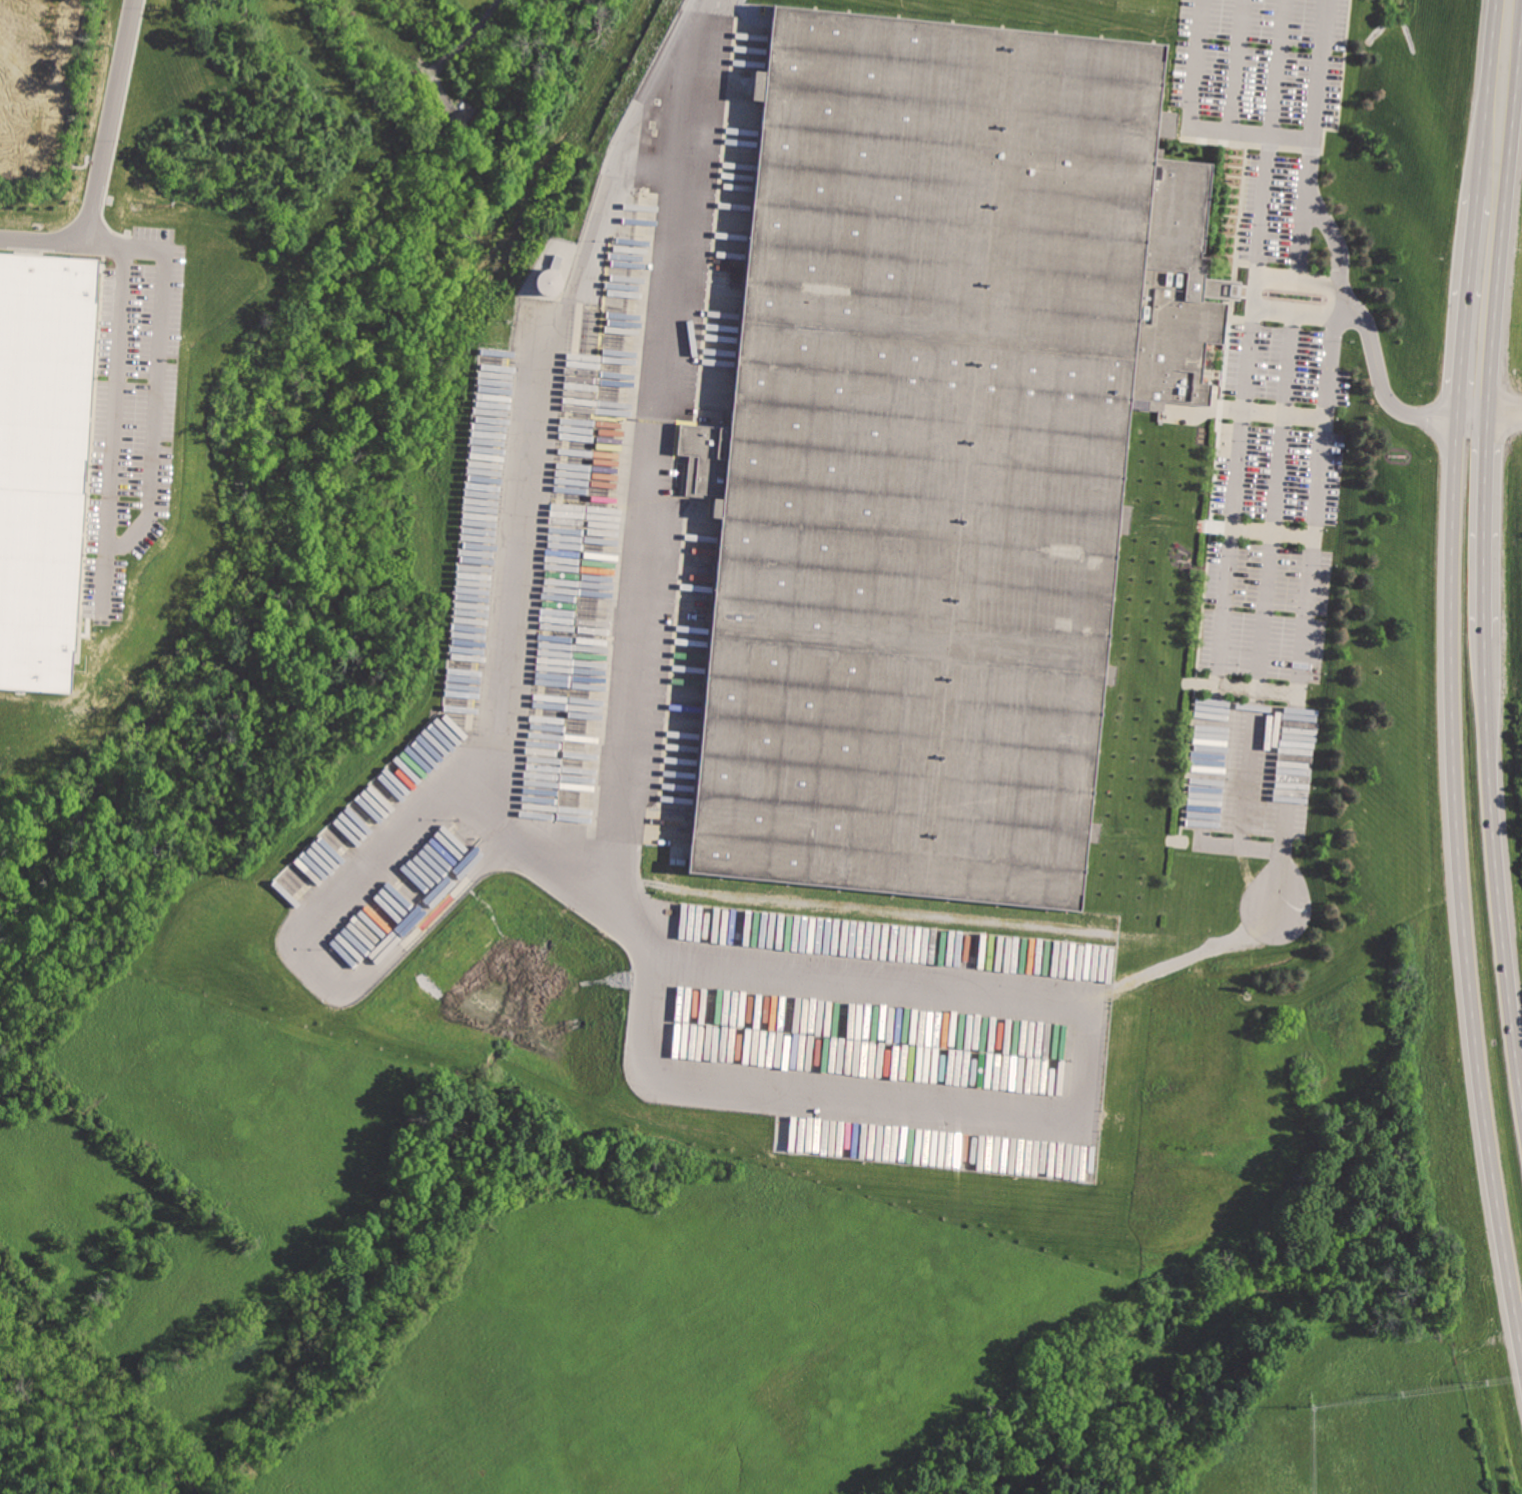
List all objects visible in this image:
road: (1237, 64)
road: (1277, 66)
road: (1500, 97)
road: (109, 110)
road: (1191, 123)
road: (1301, 233)
road: (47, 240)
road: (1302, 279)
building: (550, 281)
flagpole: (1284, 293)
flagpole: (1294, 294)
flagpole: (1307, 296)
road: (1480, 306)
road: (1299, 311)
road: (154, 364)
road: (1383, 389)
road: (1475, 417)
road: (110, 423)
road: (657, 448)
building: (940, 448)
road: (1324, 450)
building: (43, 462)
road: (1485, 524)
road: (1232, 526)
road: (1267, 578)
road: (505, 642)
road: (560, 862)
road: (1497, 869)
road: (1462, 874)
road: (1185, 957)
road: (1080, 1117)

